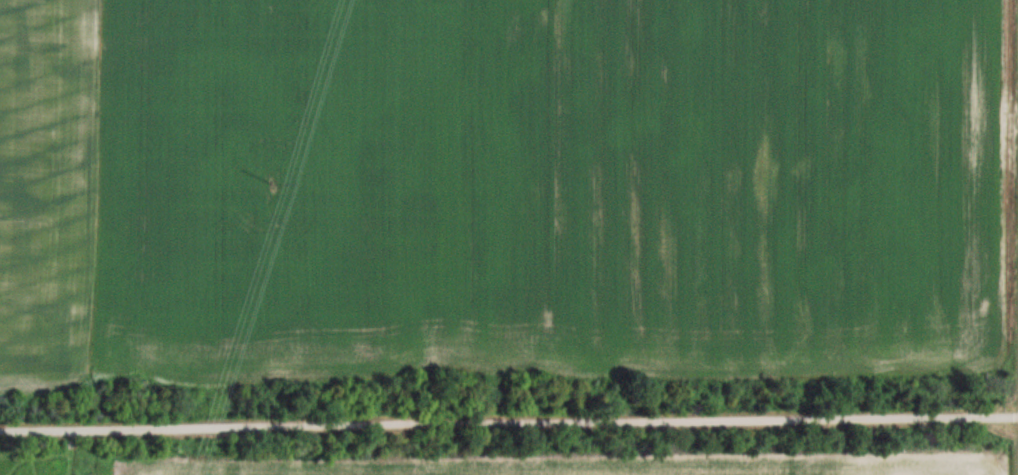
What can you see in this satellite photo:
road: (509, 417)

